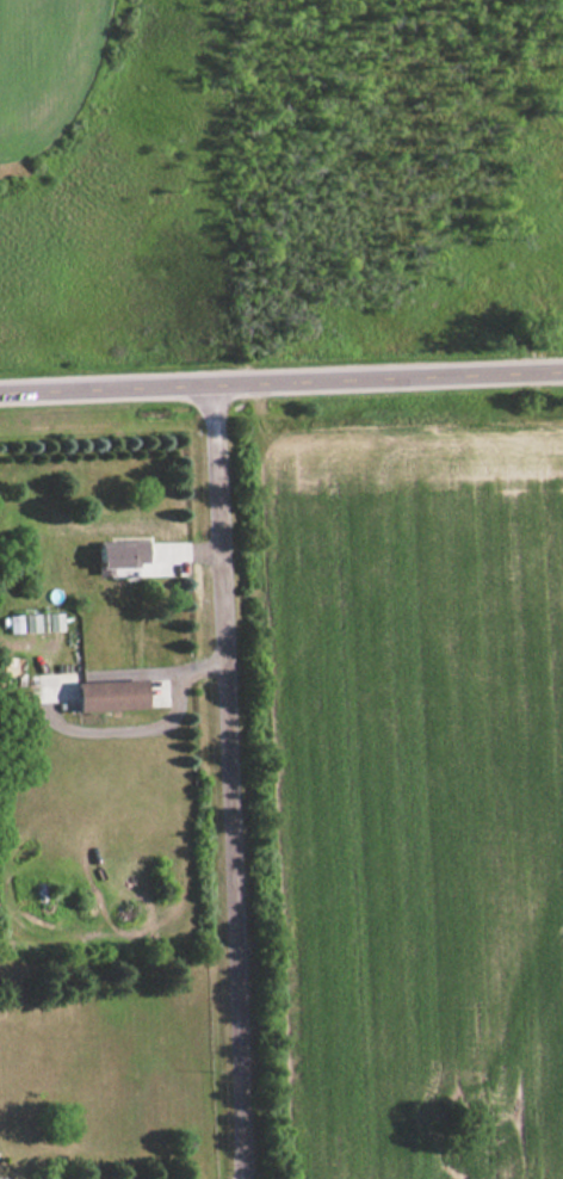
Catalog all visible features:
road: (281, 382)
building: (119, 553)
building: (33, 622)
building: (109, 693)
road: (233, 782)
road: (7, 1178)

